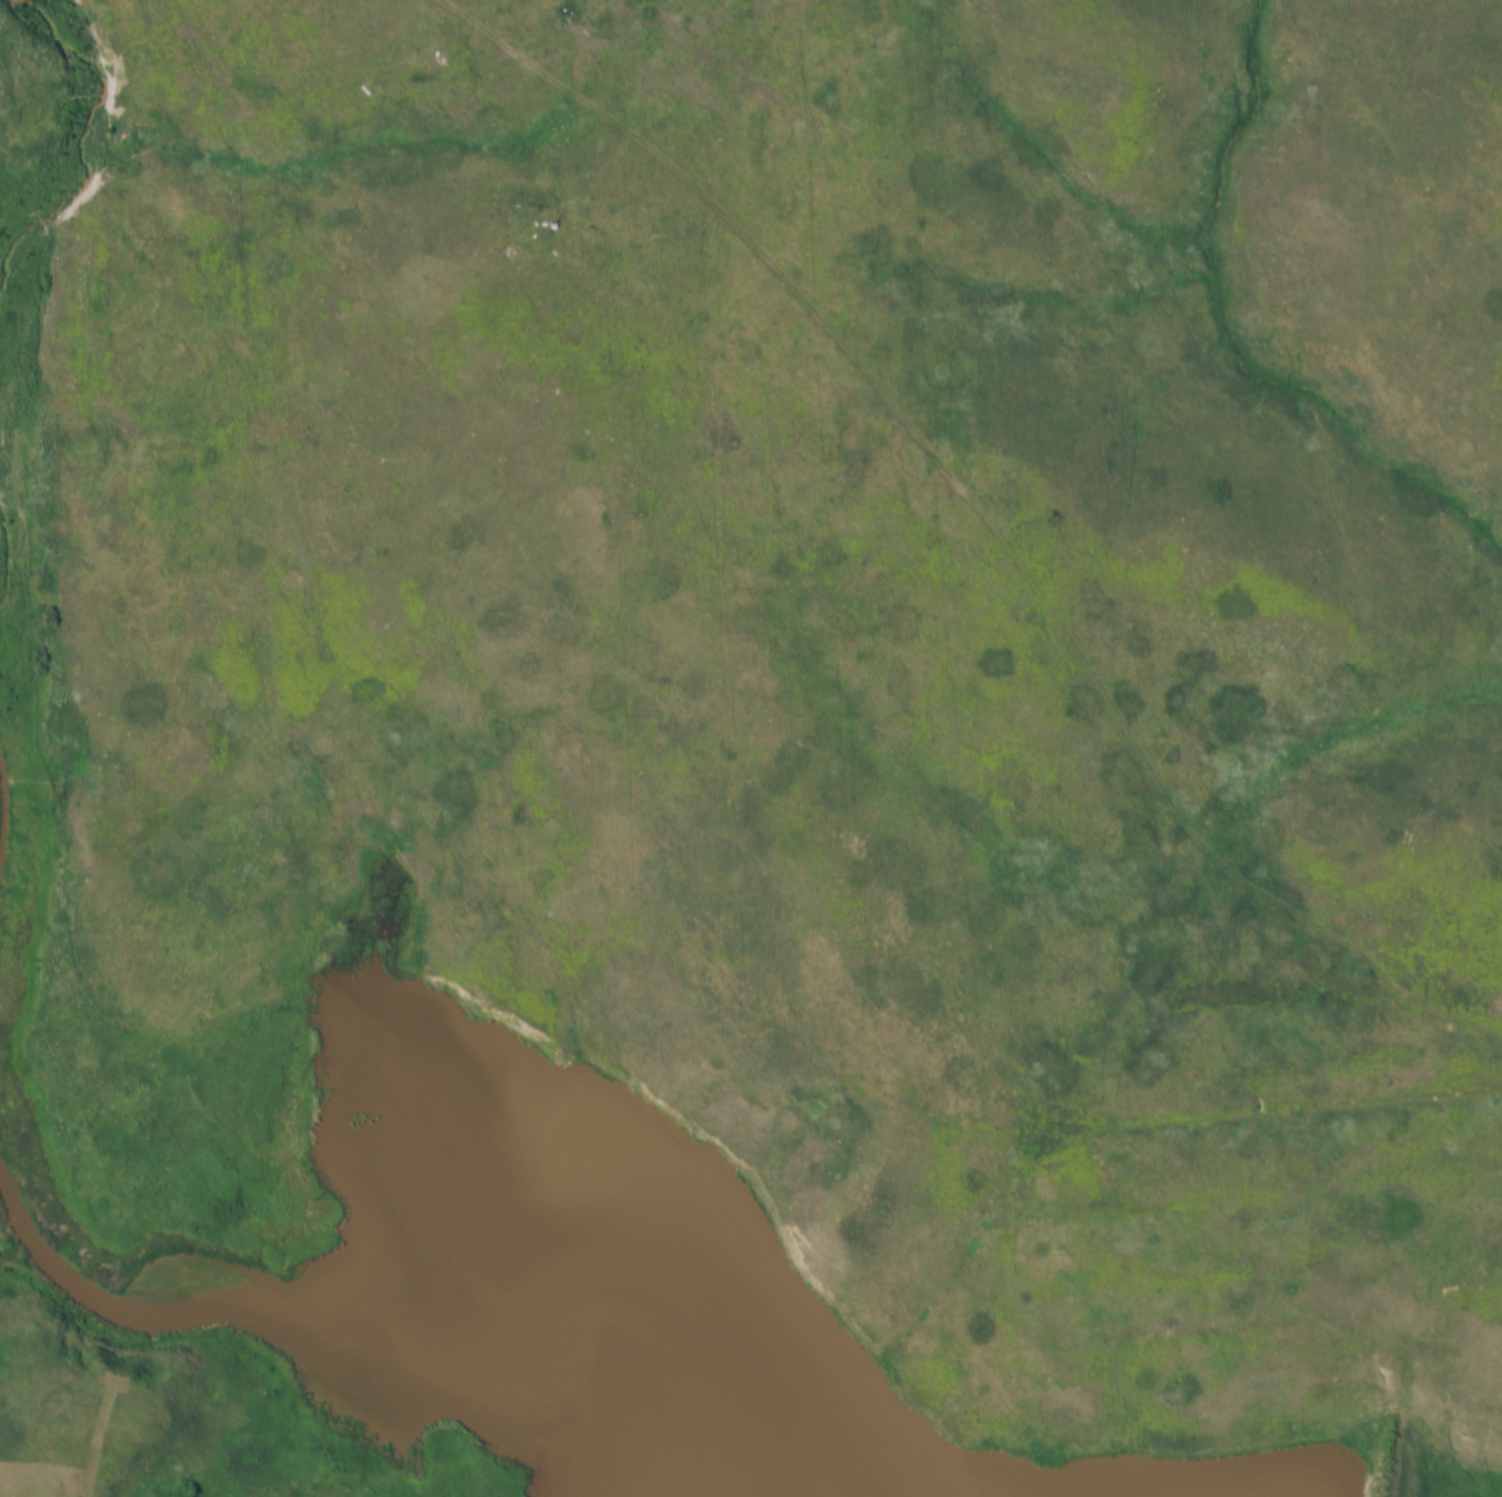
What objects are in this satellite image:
building: (565, 2)
road: (978, 514)
road: (1148, 1124)
dam: (1390, 1442)

